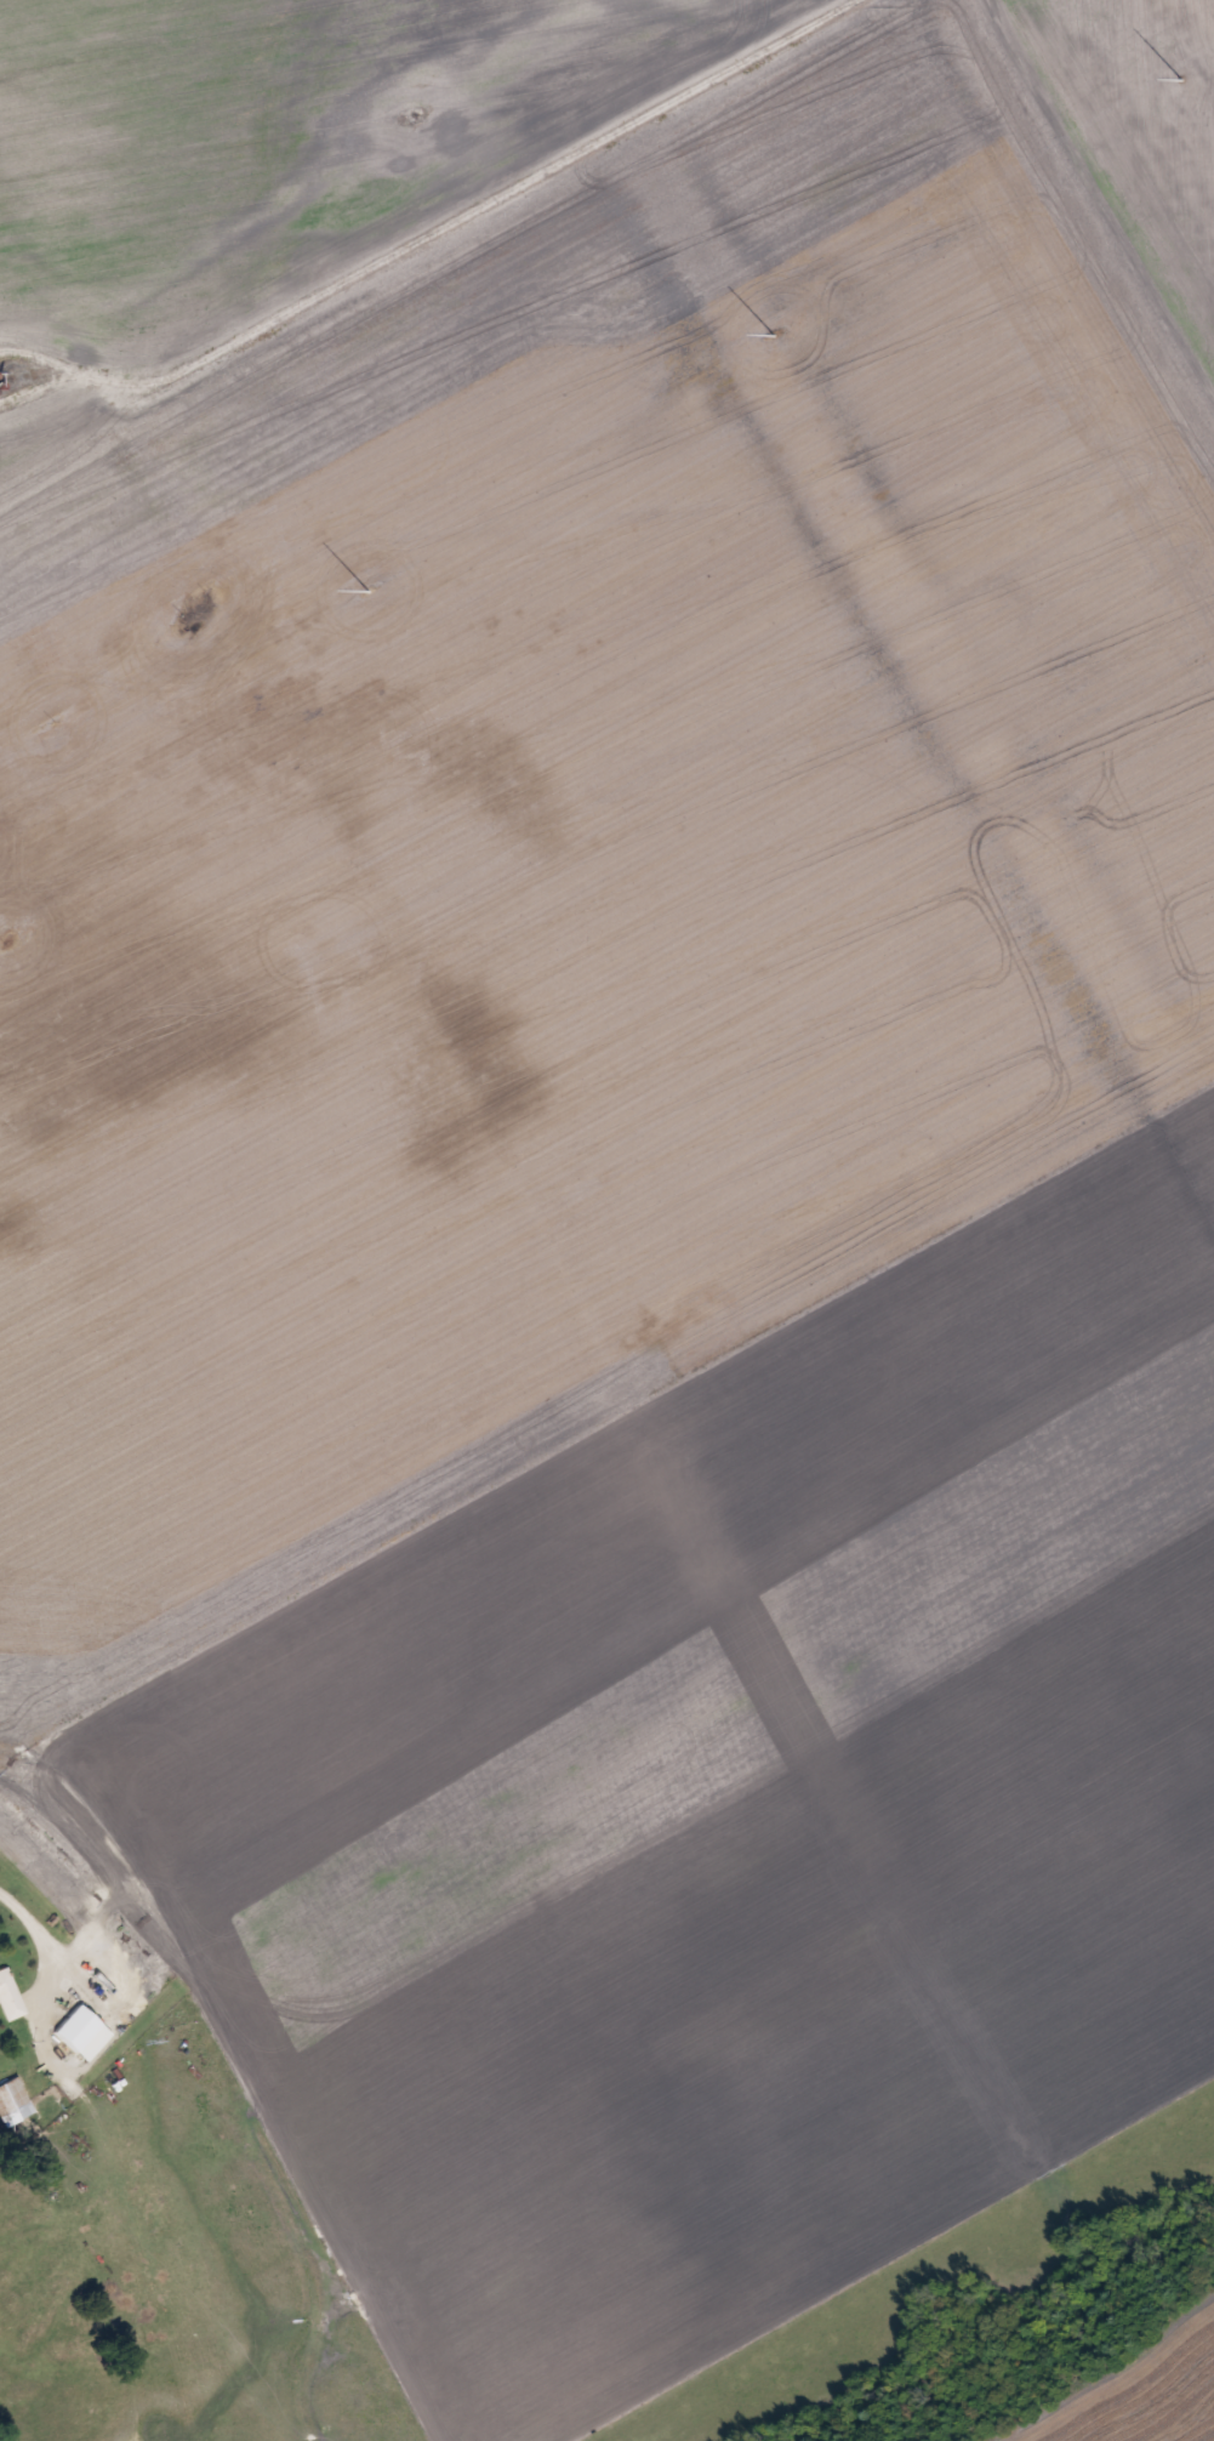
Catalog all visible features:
road: (27, 1912)
building: (7, 1999)
building: (76, 2033)
building: (8, 2095)

